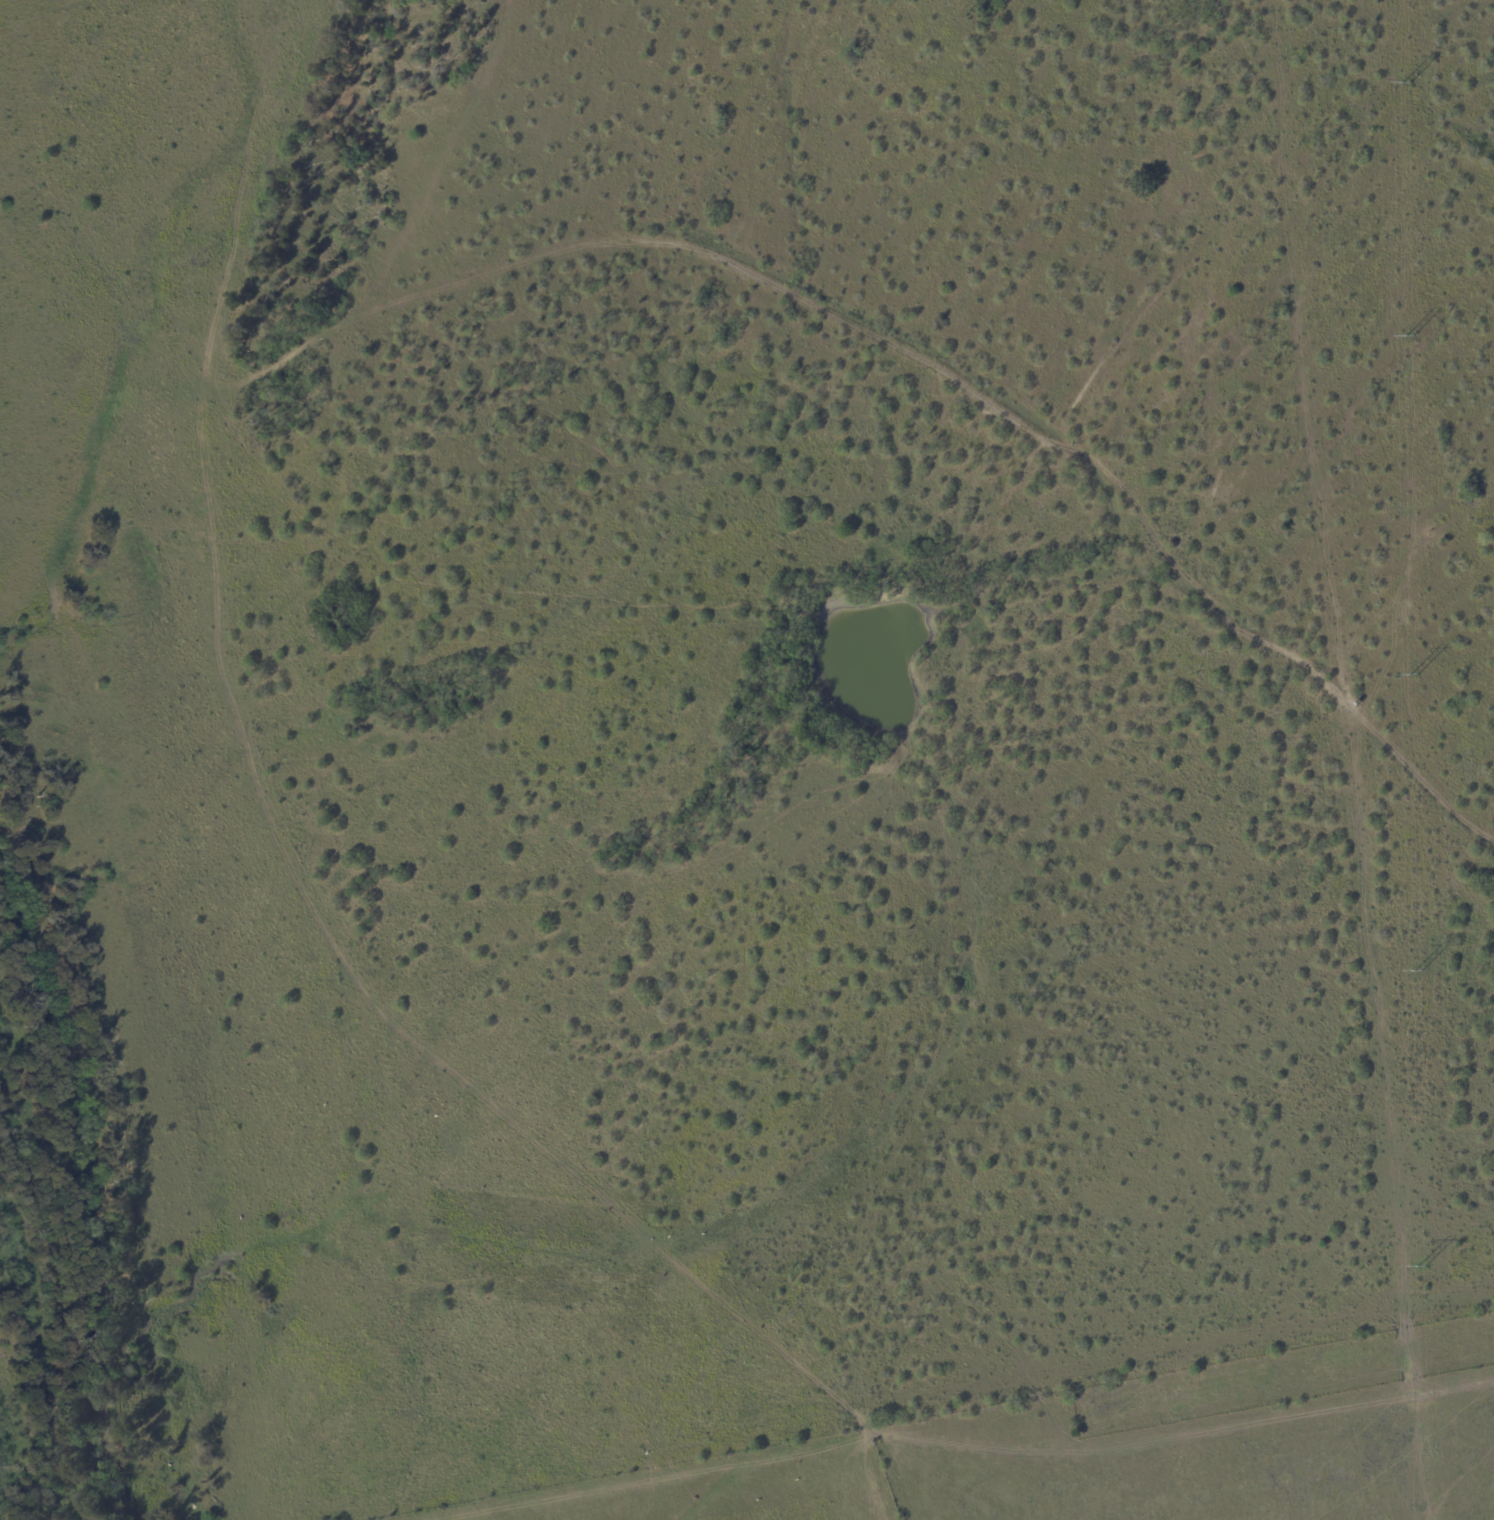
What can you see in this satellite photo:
power tower: (1406, 82)
power tower: (1409, 335)
power tower: (1411, 675)
power tower: (1416, 970)
power tower: (1419, 1267)

